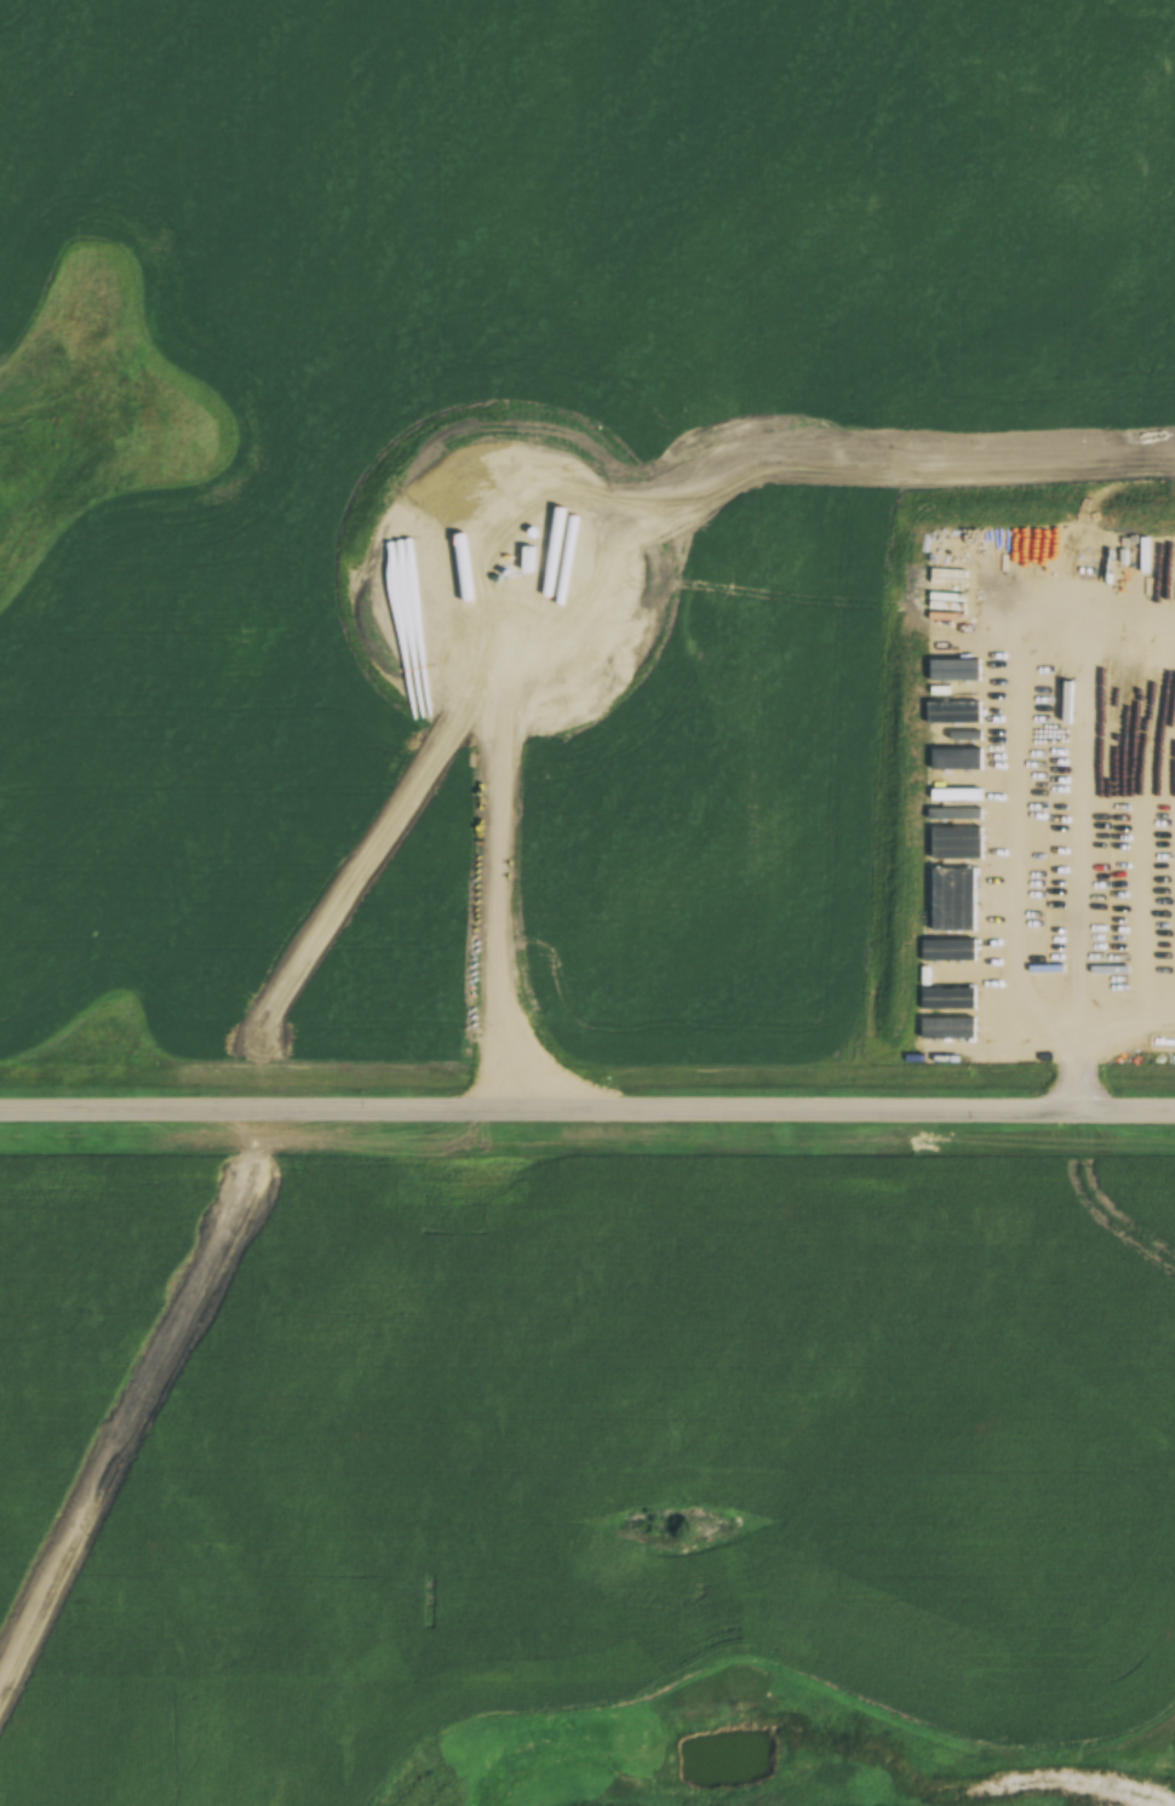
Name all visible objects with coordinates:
wind turbine: (510, 569)
road: (586, 1103)

